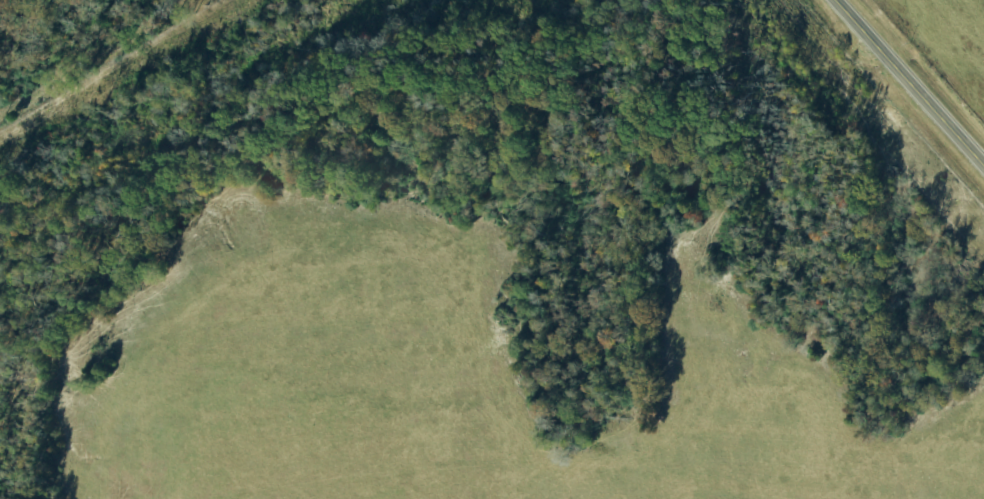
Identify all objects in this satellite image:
road: (910, 83)

